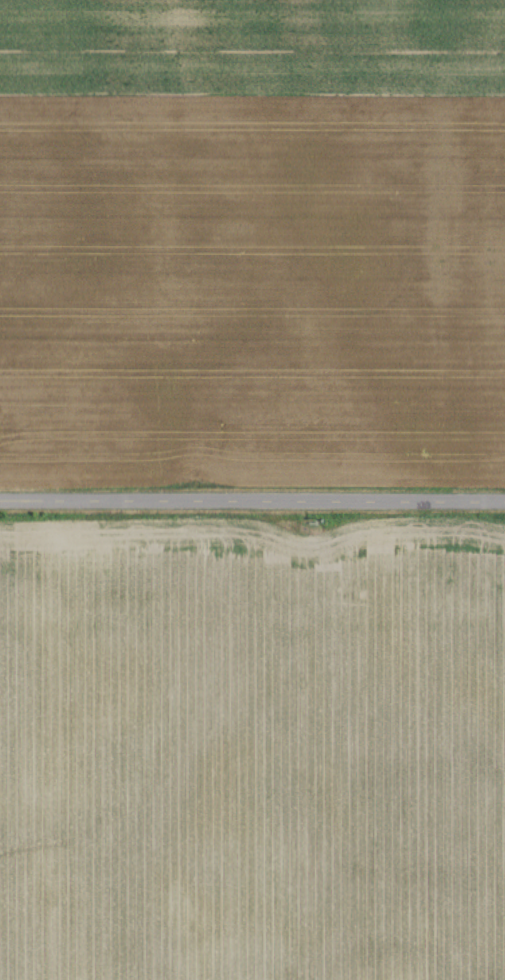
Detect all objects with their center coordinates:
road: (252, 500)

